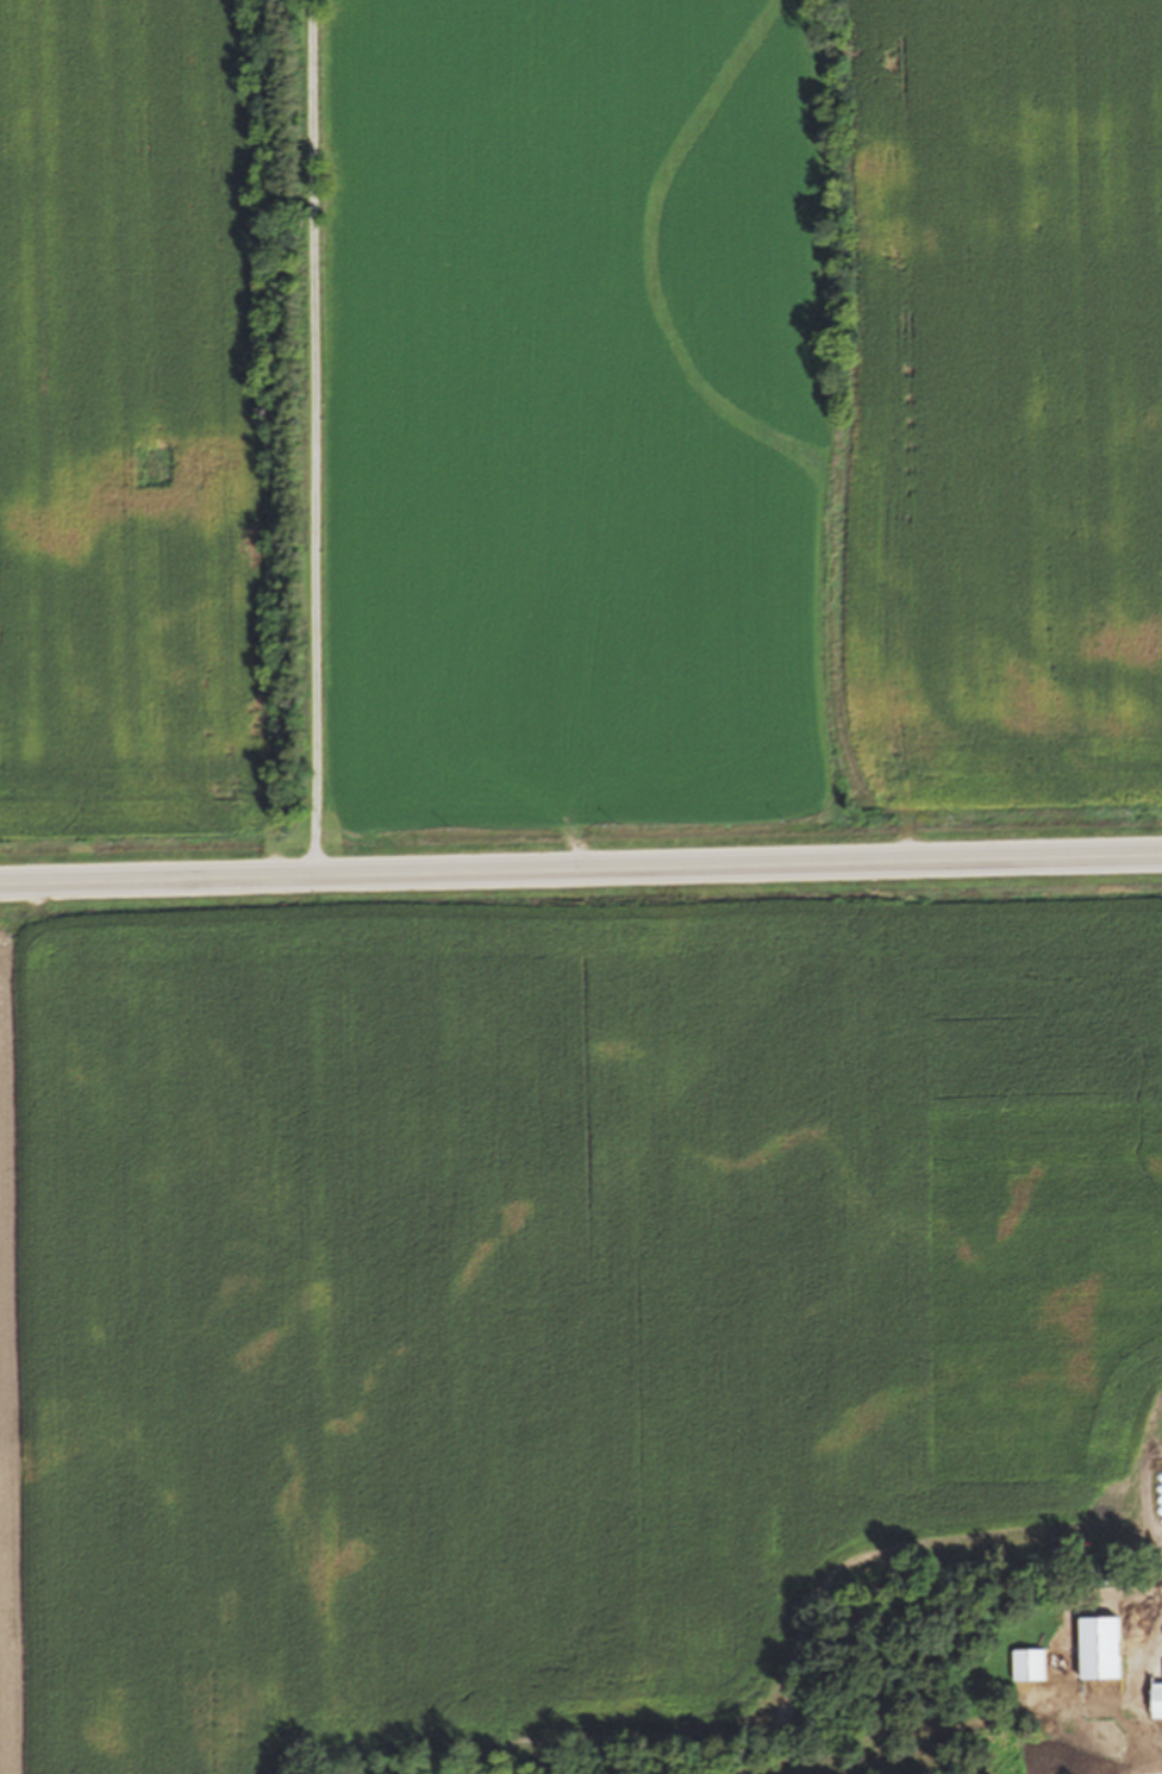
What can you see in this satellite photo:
road: (310, 432)
road: (580, 858)
building: (1100, 1651)
building: (1027, 1668)
building: (1156, 1703)

